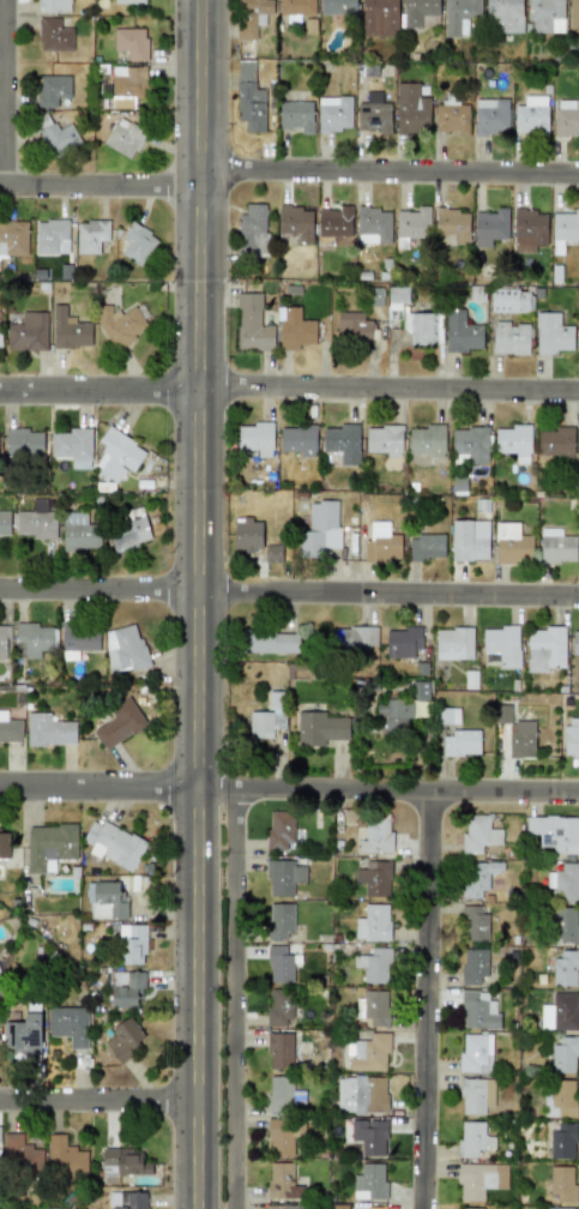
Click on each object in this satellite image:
building: (129, 1)
building: (54, 6)
building: (296, 7)
building: (338, 7)
building: (418, 11)
building: (545, 13)
building: (459, 14)
building: (503, 16)
building: (574, 16)
building: (249, 17)
building: (380, 17)
building: (54, 35)
building: (131, 42)
building: (128, 82)
building: (52, 89)
road: (6, 95)
building: (249, 106)
building: (410, 109)
building: (373, 114)
building: (295, 115)
building: (333, 115)
building: (452, 118)
building: (491, 119)
building: (530, 119)
building: (566, 121)
building: (56, 134)
building: (123, 137)
road: (391, 169)
road: (101, 191)
building: (295, 222)
building: (336, 222)
building: (374, 223)
building: (414, 223)
building: (452, 224)
building: (566, 225)
building: (490, 227)
building: (251, 230)
building: (529, 230)
building: (91, 235)
building: (50, 236)
building: (13, 237)
building: (137, 242)
building: (397, 296)
building: (509, 300)
building: (121, 323)
building: (252, 324)
building: (352, 325)
building: (422, 327)
building: (295, 329)
building: (70, 330)
building: (28, 332)
building: (462, 332)
building: (553, 333)
building: (0, 336)
building: (509, 337)
road: (289, 393)
building: (257, 438)
building: (297, 439)
building: (384, 439)
building: (427, 439)
building: (513, 441)
building: (555, 441)
building: (23, 443)
building: (343, 443)
building: (470, 443)
building: (73, 446)
building: (116, 456)
building: (36, 521)
building: (4, 523)
building: (129, 529)
building: (319, 529)
building: (79, 533)
building: (247, 534)
building: (469, 540)
building: (381, 542)
building: (512, 545)
building: (556, 546)
building: (426, 547)
building: (272, 553)
road: (289, 594)
road: (200, 603)
building: (34, 638)
building: (355, 639)
building: (78, 642)
building: (270, 642)
building: (575, 642)
building: (4, 643)
building: (404, 643)
building: (453, 643)
building: (500, 646)
building: (545, 648)
building: (123, 649)
building: (396, 712)
building: (447, 715)
building: (267, 716)
building: (119, 723)
building: (320, 728)
building: (10, 729)
building: (48, 730)
building: (571, 736)
building: (520, 739)
building: (460, 742)
road: (289, 792)
building: (279, 831)
building: (555, 832)
building: (478, 834)
building: (375, 835)
building: (113, 843)
building: (49, 846)
building: (283, 876)
building: (477, 877)
building: (374, 878)
building: (563, 882)
building: (107, 901)
building: (279, 921)
building: (372, 922)
building: (475, 924)
building: (566, 925)
building: (132, 944)
building: (282, 962)
building: (372, 962)
building: (475, 966)
building: (565, 968)
building: (126, 988)
road: (234, 999)
road: (432, 1002)
building: (278, 1005)
building: (373, 1007)
building: (477, 1010)
building: (565, 1012)
building: (68, 1024)
building: (23, 1035)
building: (0, 1037)
building: (125, 1039)
building: (279, 1052)
building: (368, 1053)
building: (475, 1053)
building: (563, 1054)
building: (278, 1093)
building: (361, 1094)
building: (475, 1095)
building: (560, 1099)
road: (101, 1102)
building: (368, 1133)
building: (279, 1136)
building: (472, 1138)
building: (561, 1141)
building: (19, 1153)
building: (64, 1156)
building: (123, 1162)
building: (480, 1179)
building: (281, 1180)
building: (369, 1181)
building: (562, 1183)
building: (127, 1199)
building: (273, 1207)
building: (292, 1207)
building: (366, 1207)
building: (469, 1208)
building: (557, 1208)

